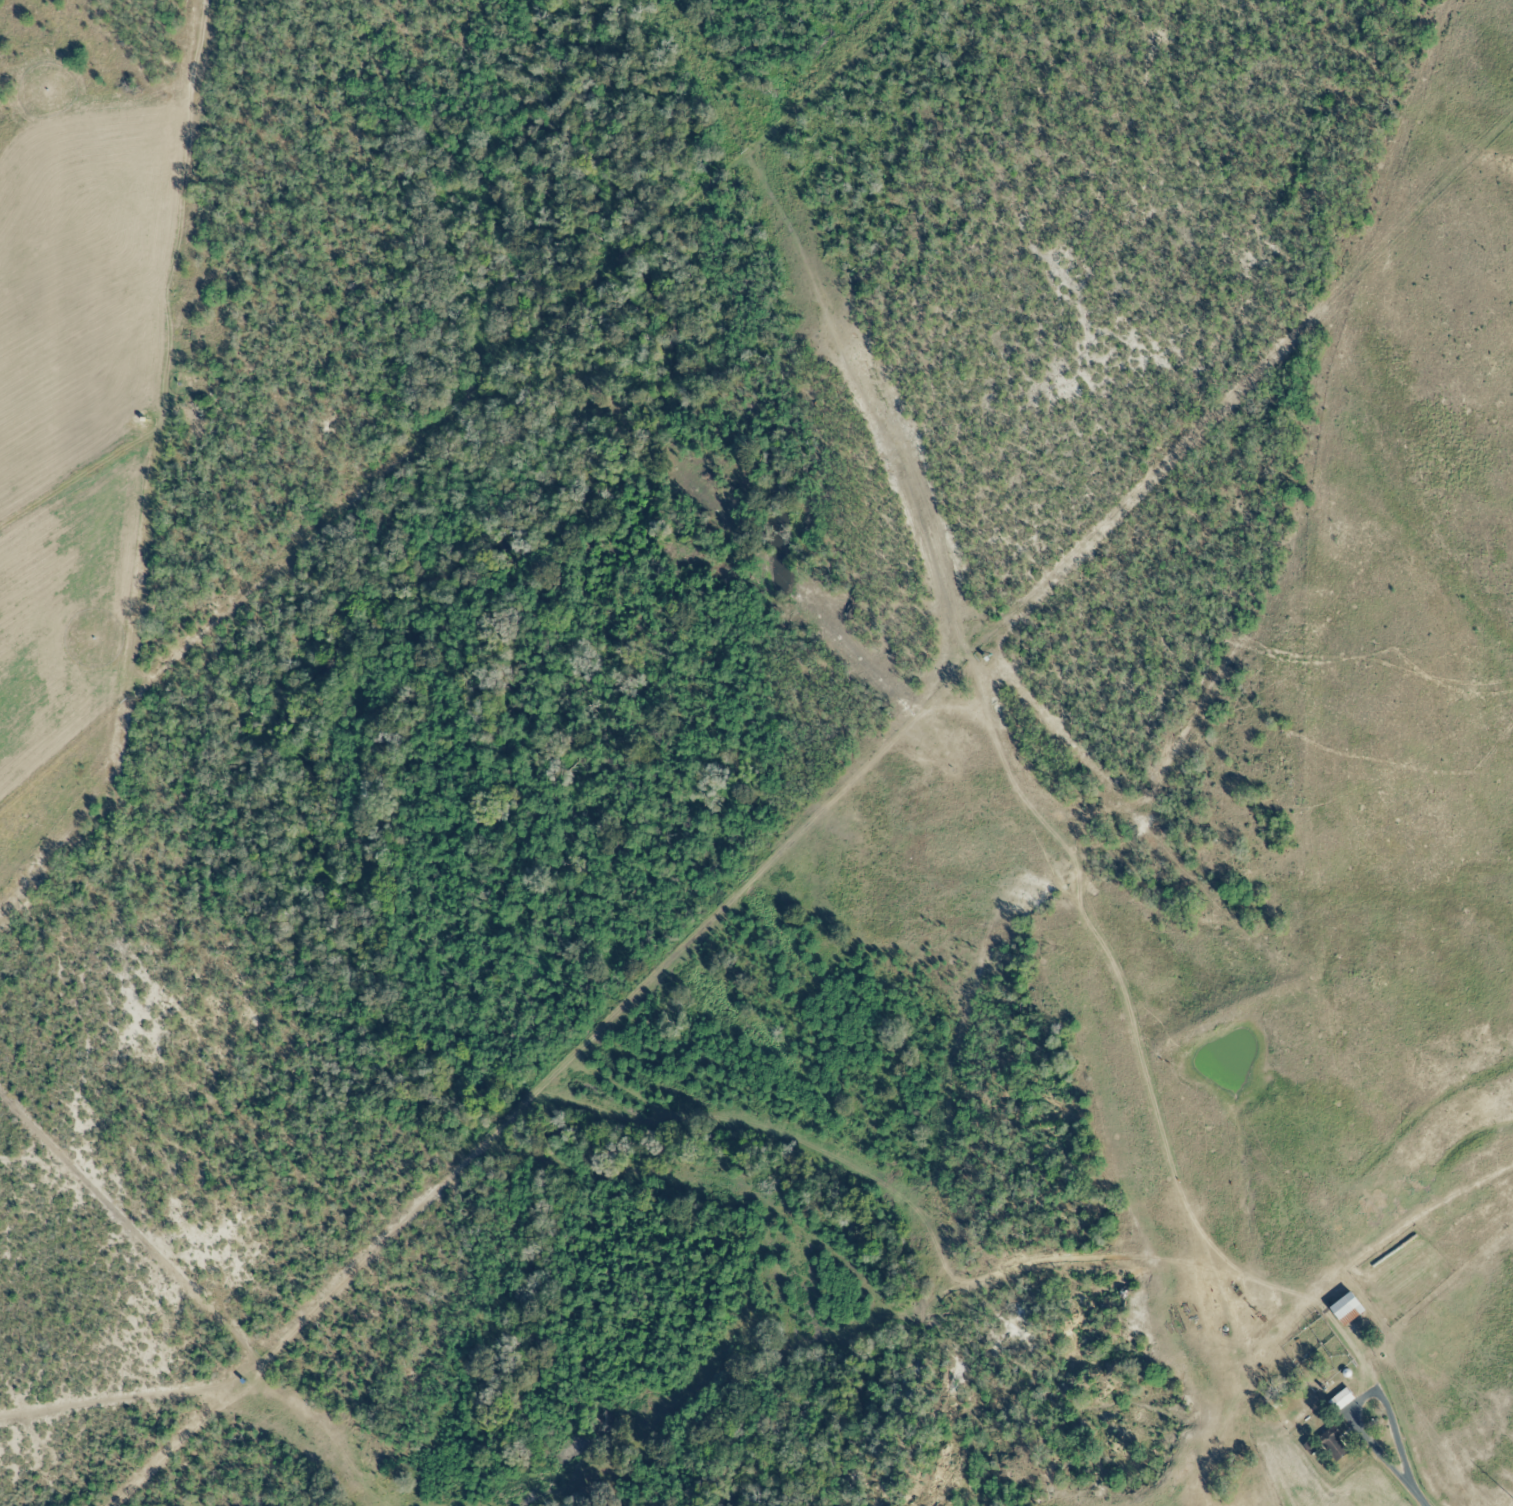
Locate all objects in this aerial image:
building: (1343, 1309)
road: (1363, 1397)
building: (1338, 1401)
building: (1331, 1444)
road: (1416, 1494)

